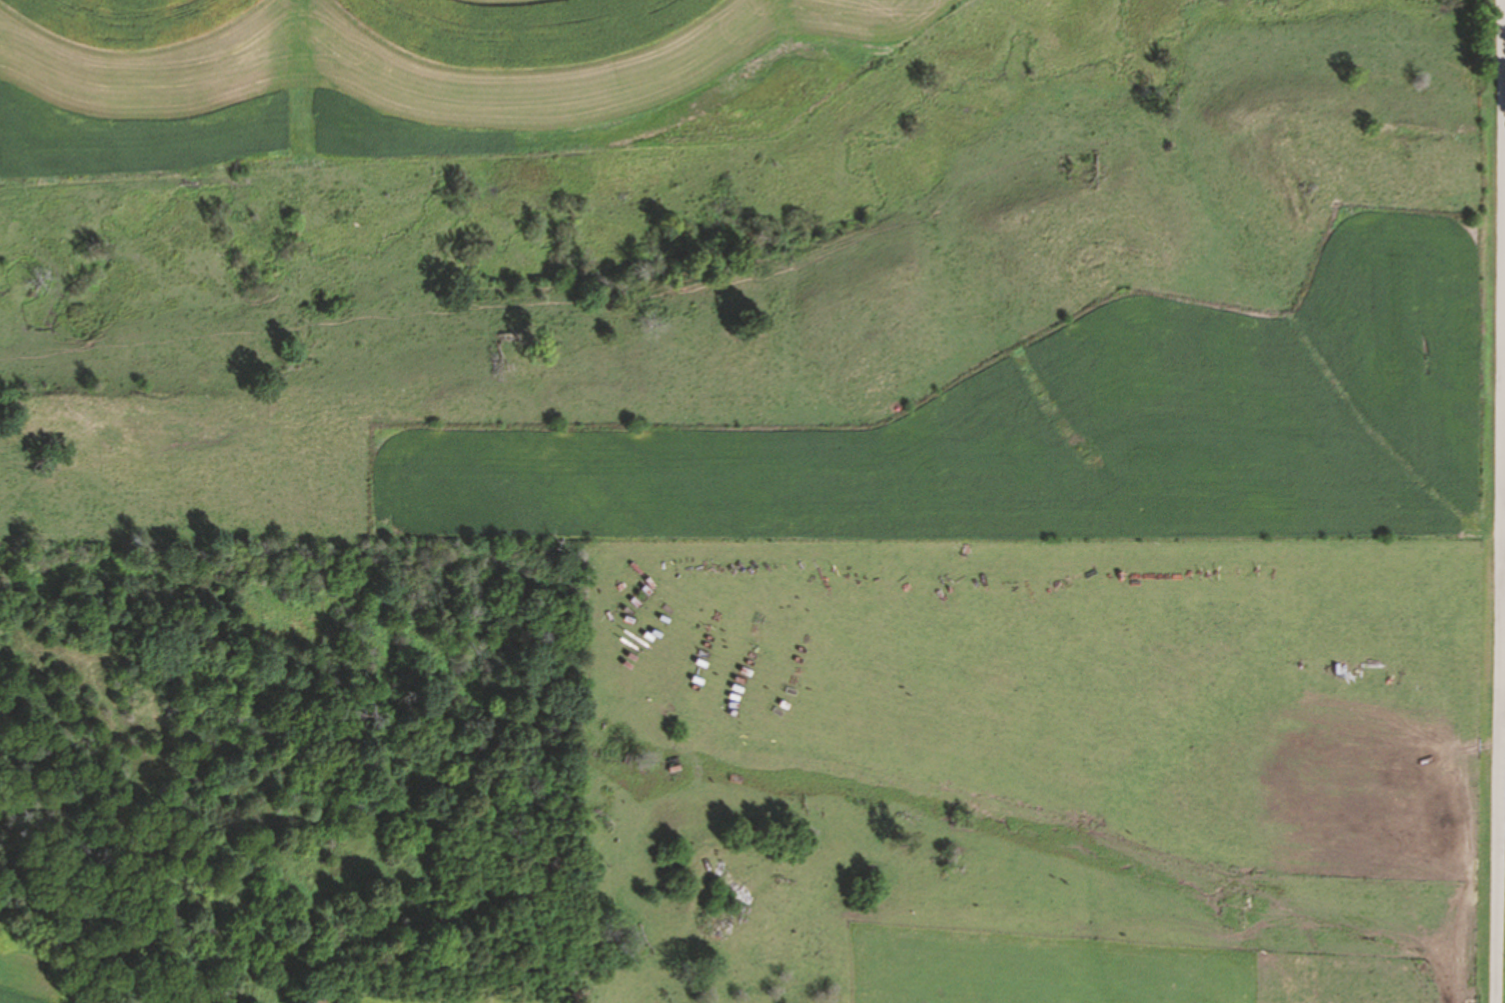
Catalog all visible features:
road: (1498, 501)
road: (1501, 520)

